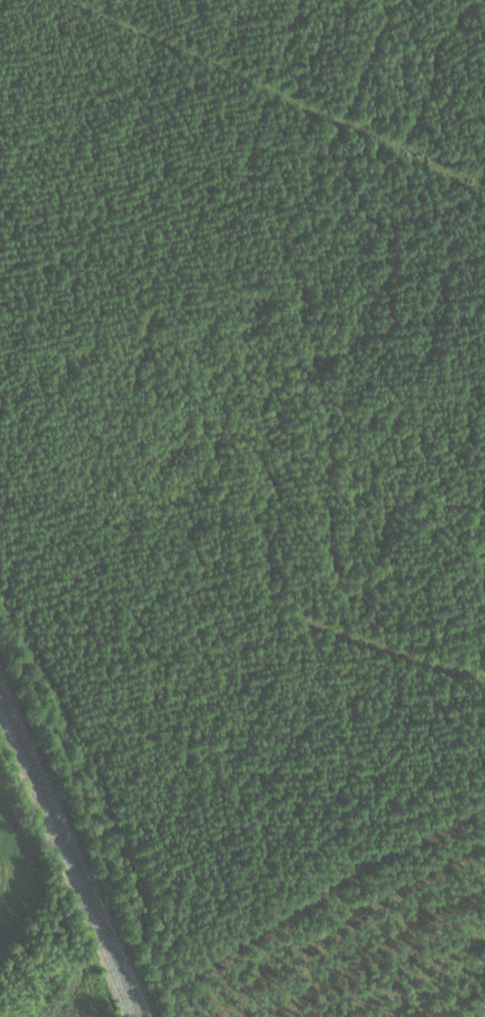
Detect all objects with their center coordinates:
railway: (72, 850)

